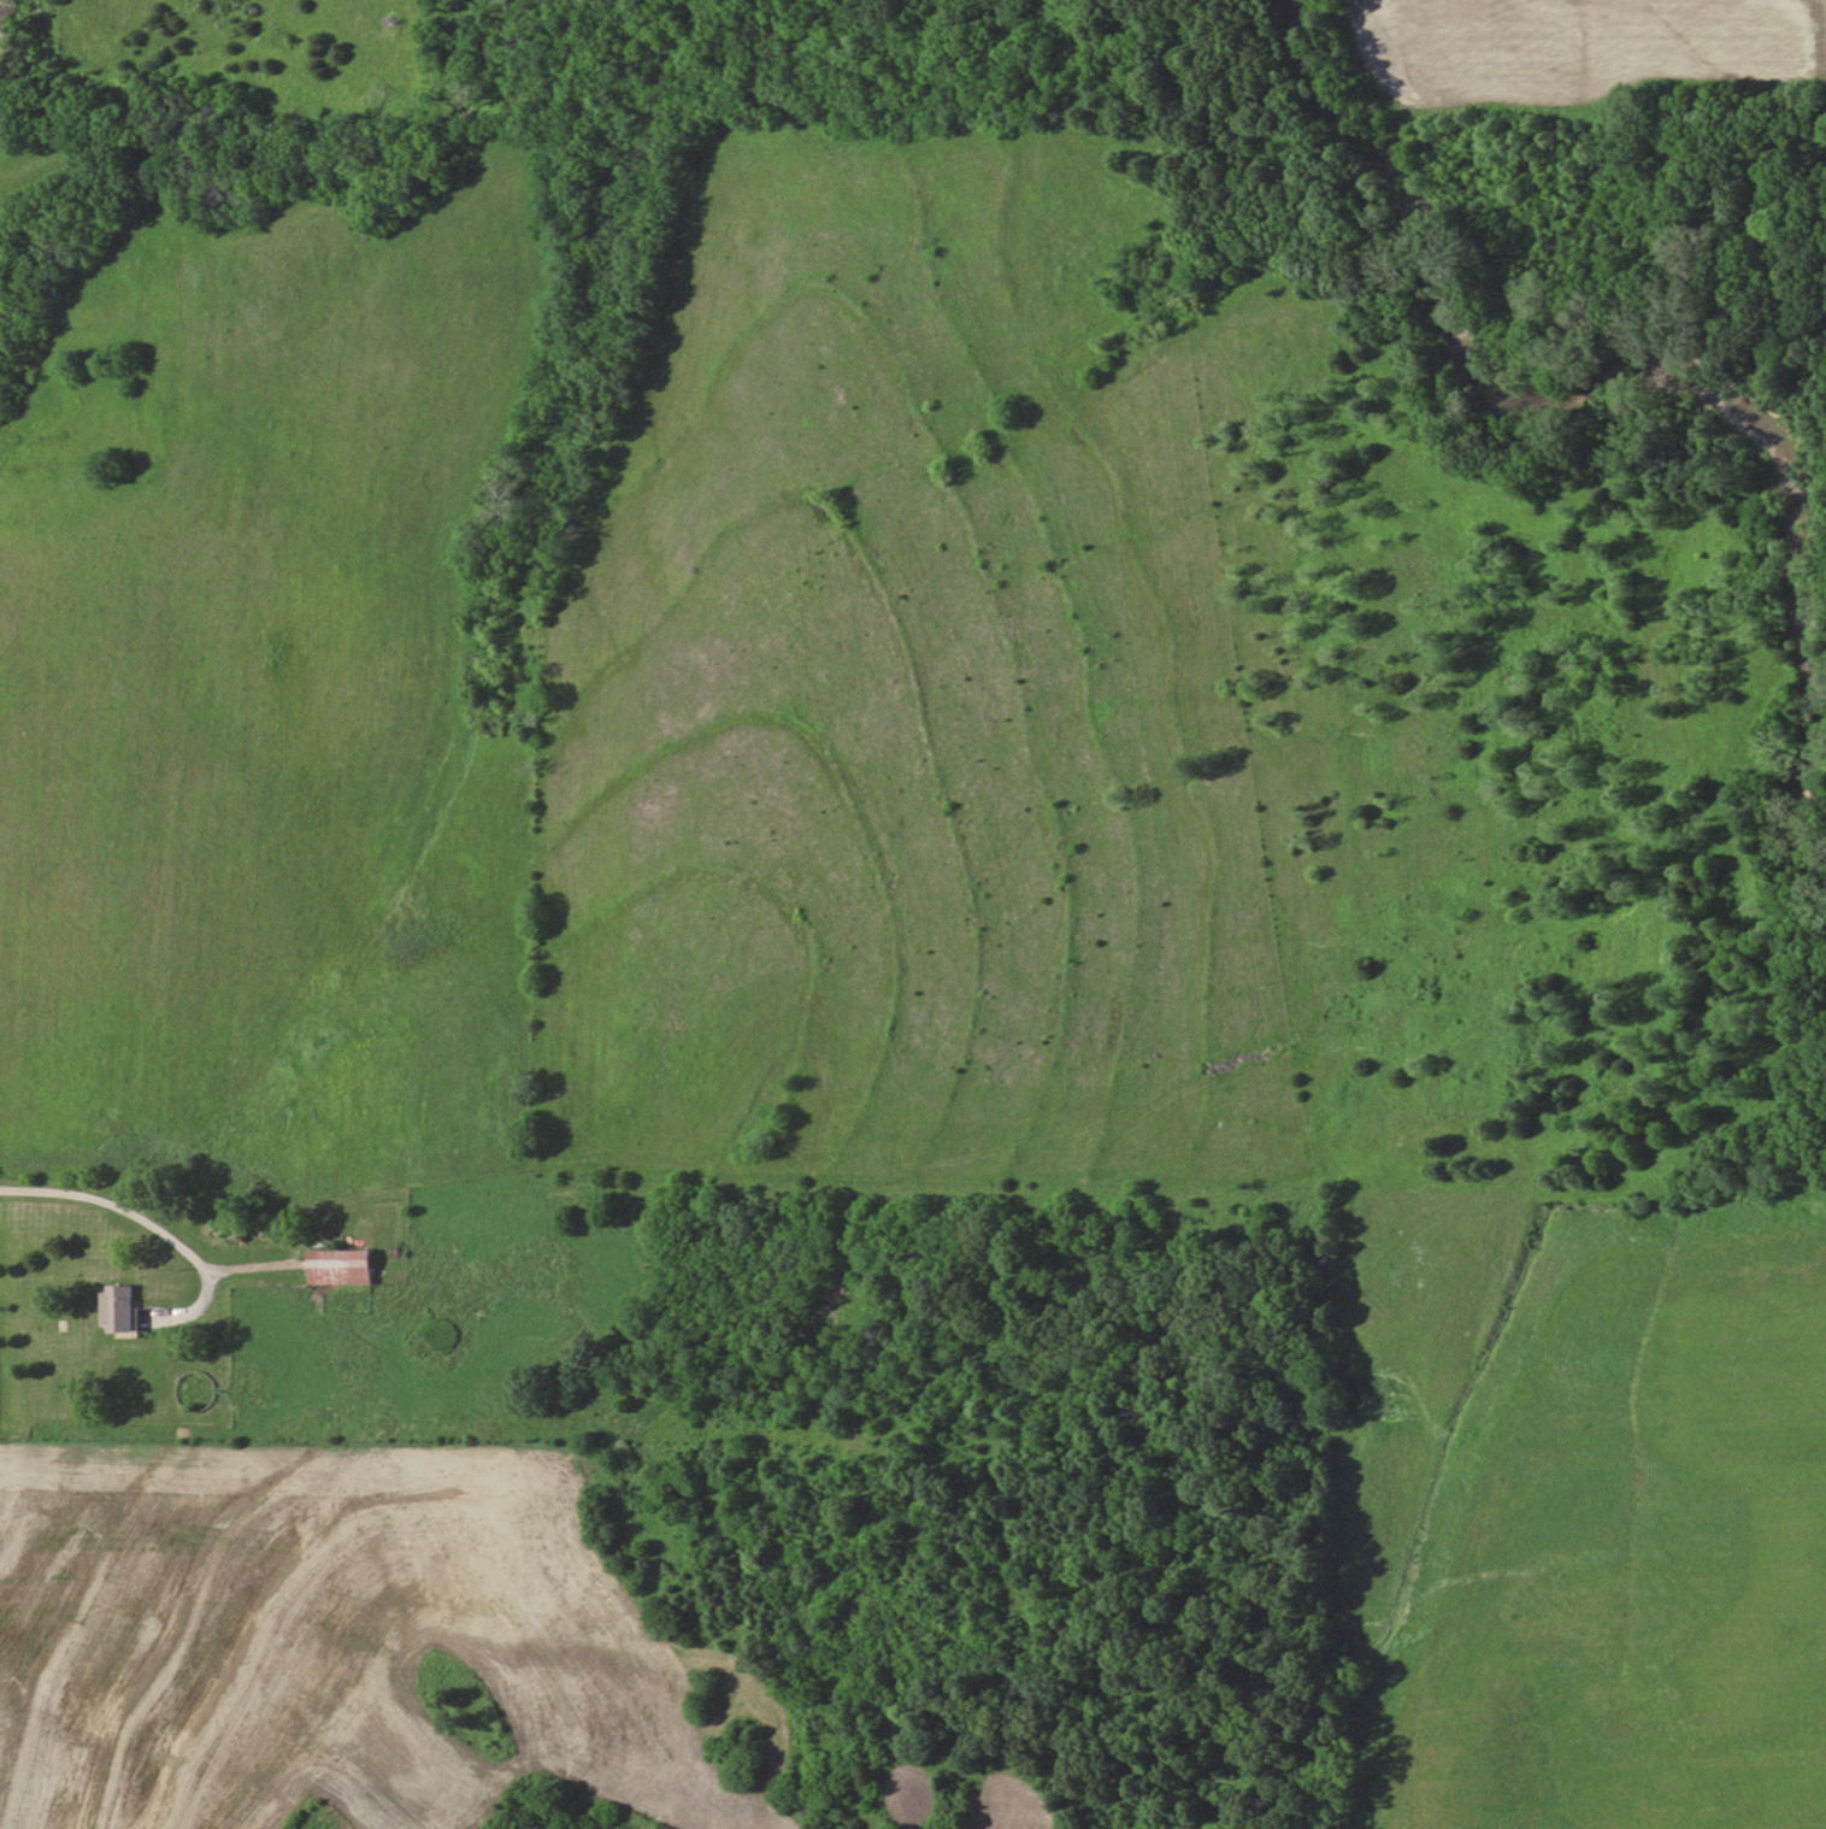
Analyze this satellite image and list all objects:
river: (1594, 383)
road: (119, 1208)
building: (343, 1265)
building: (122, 1306)

